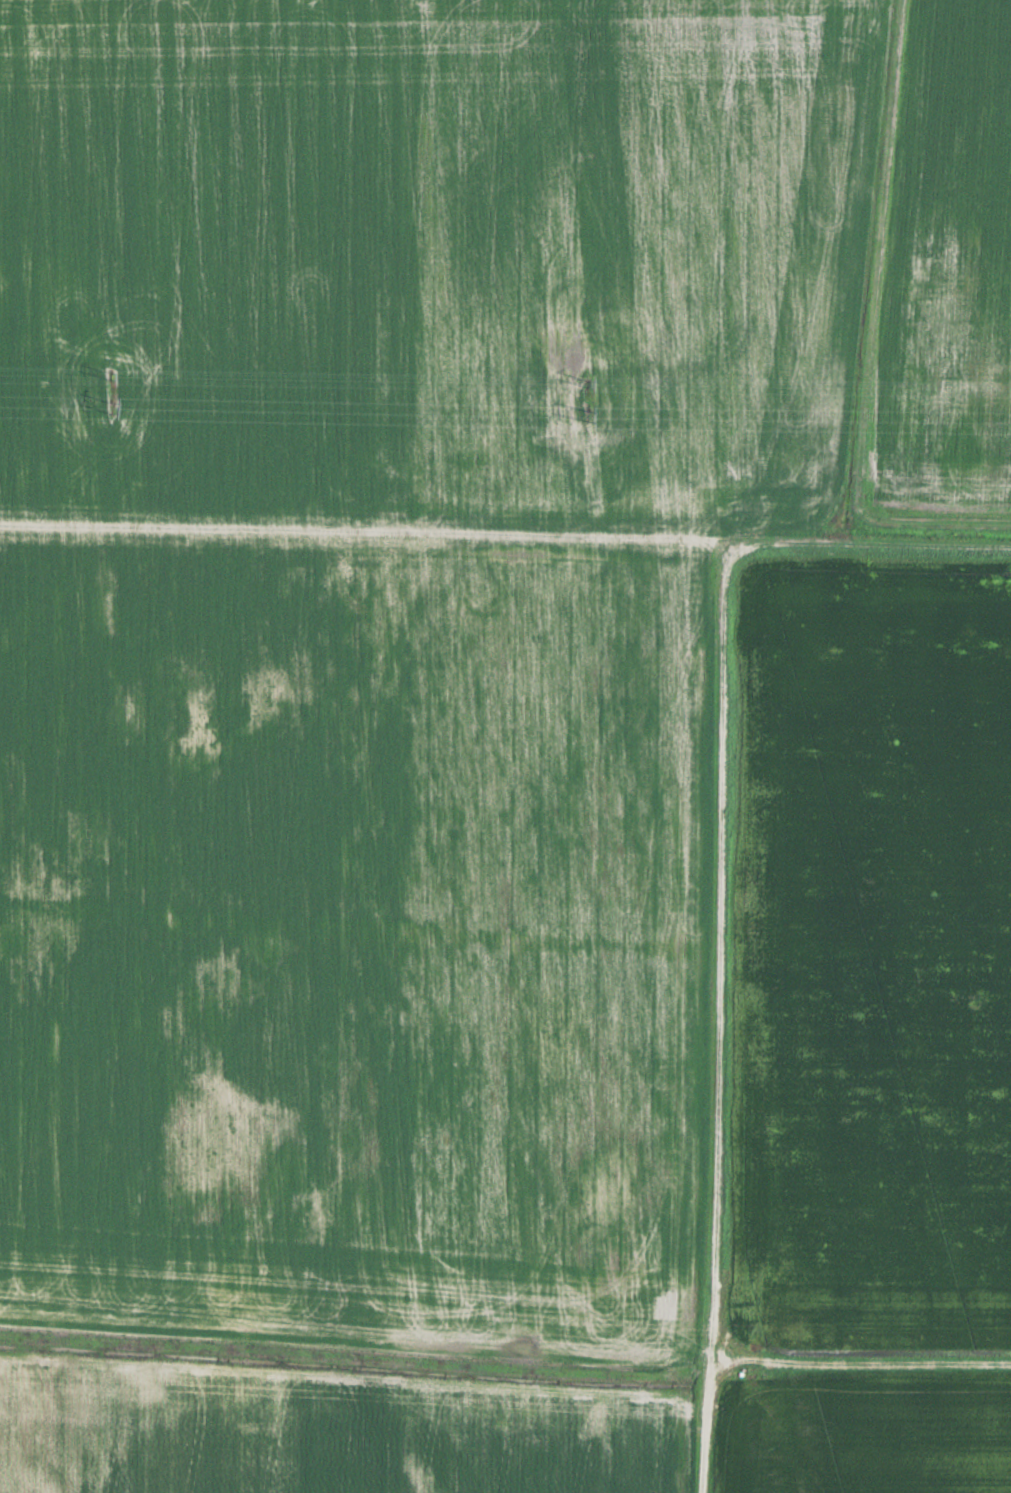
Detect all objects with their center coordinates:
road: (718, 879)
road: (309, 1347)

